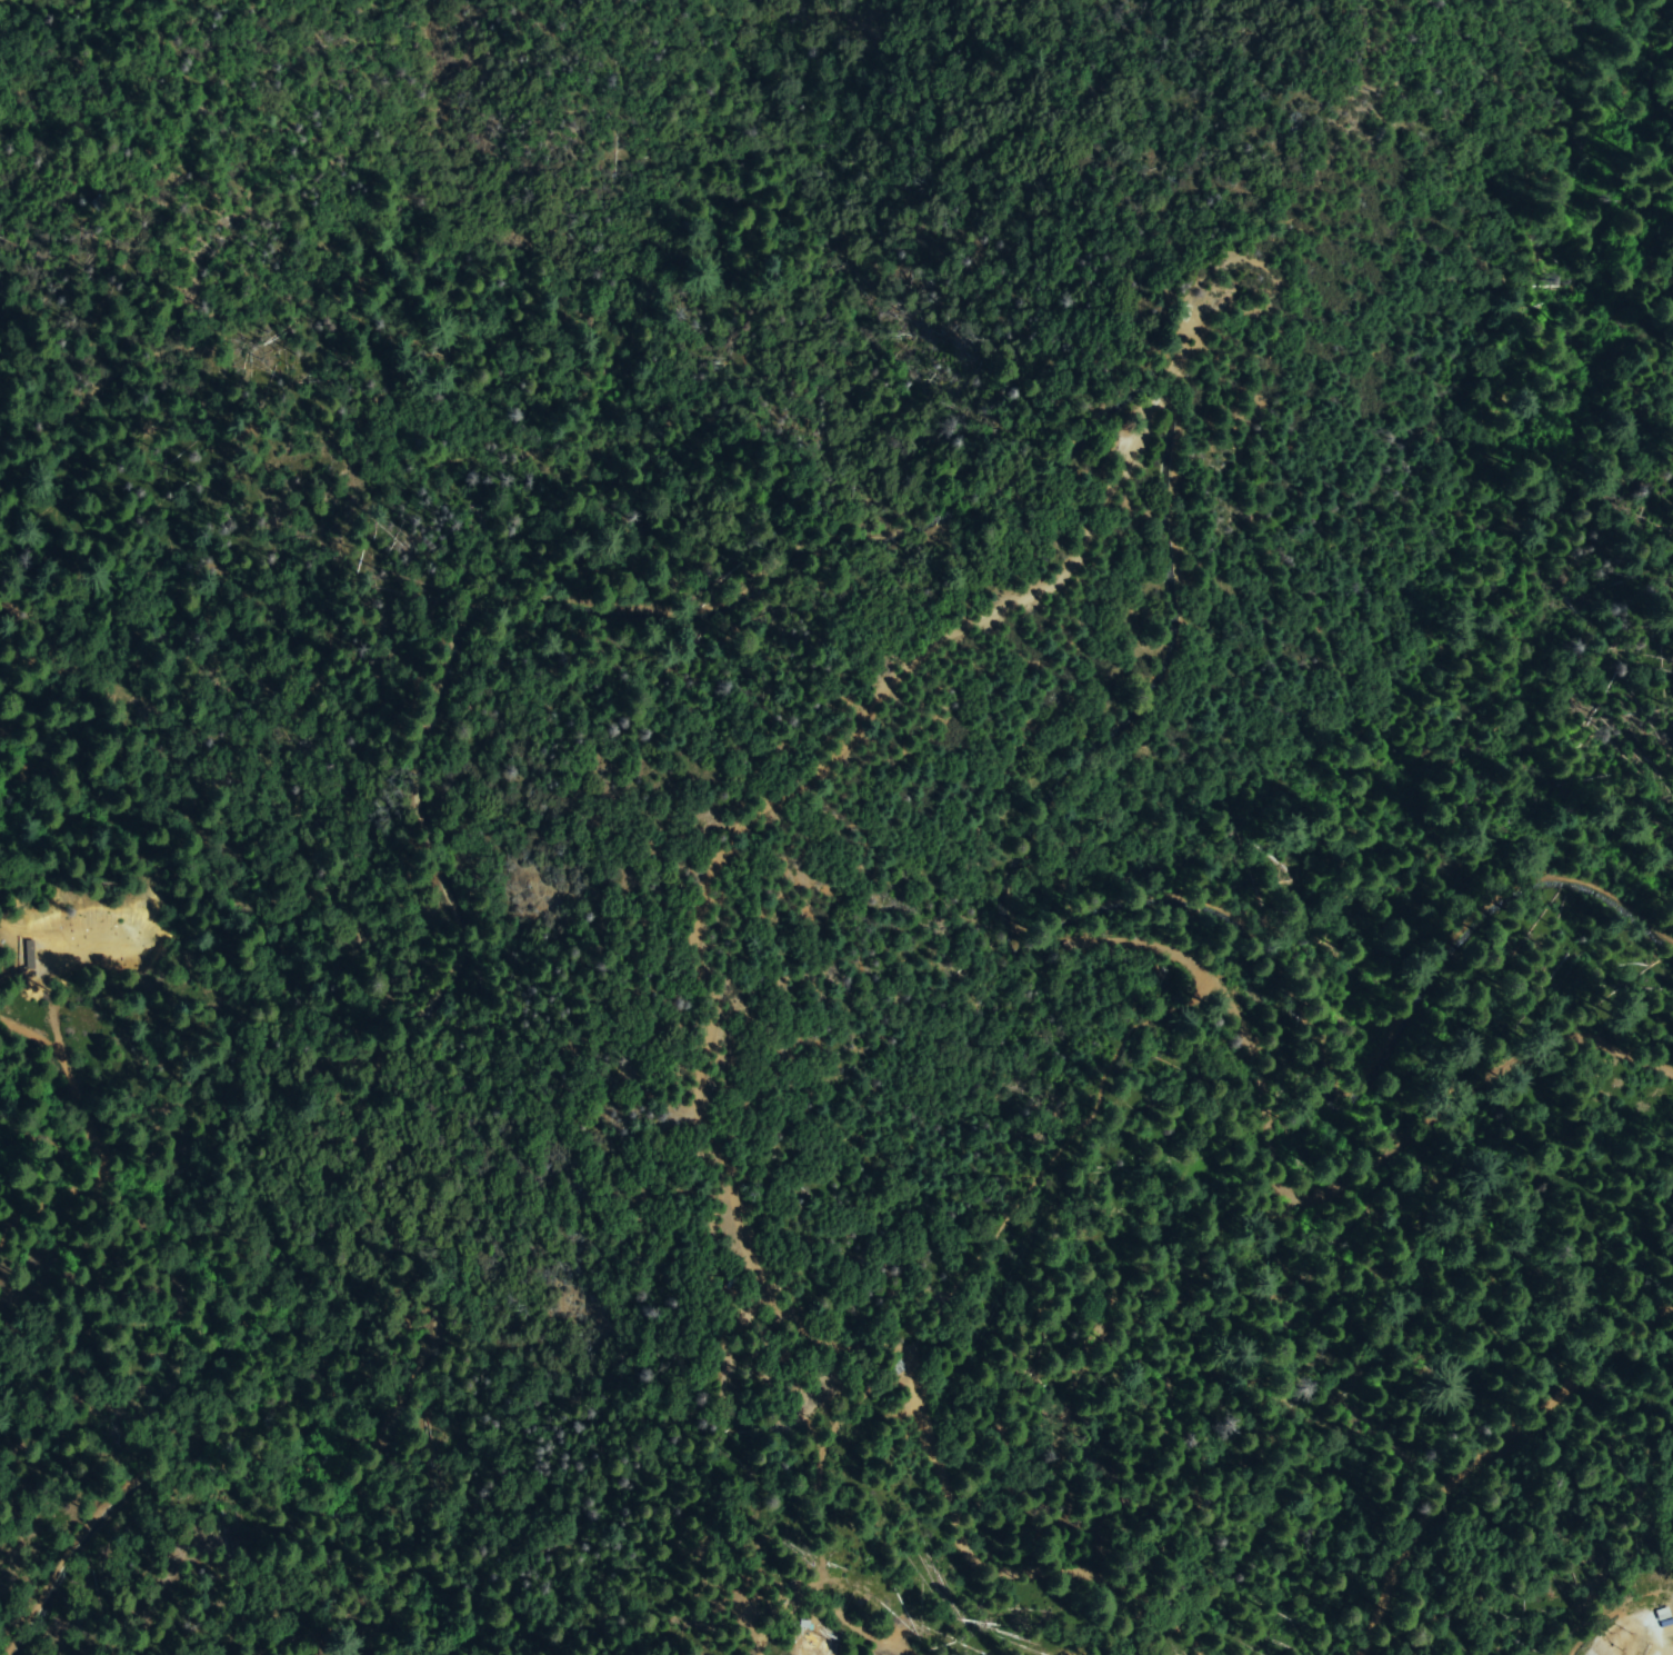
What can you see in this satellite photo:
road: (1480, 1446)

